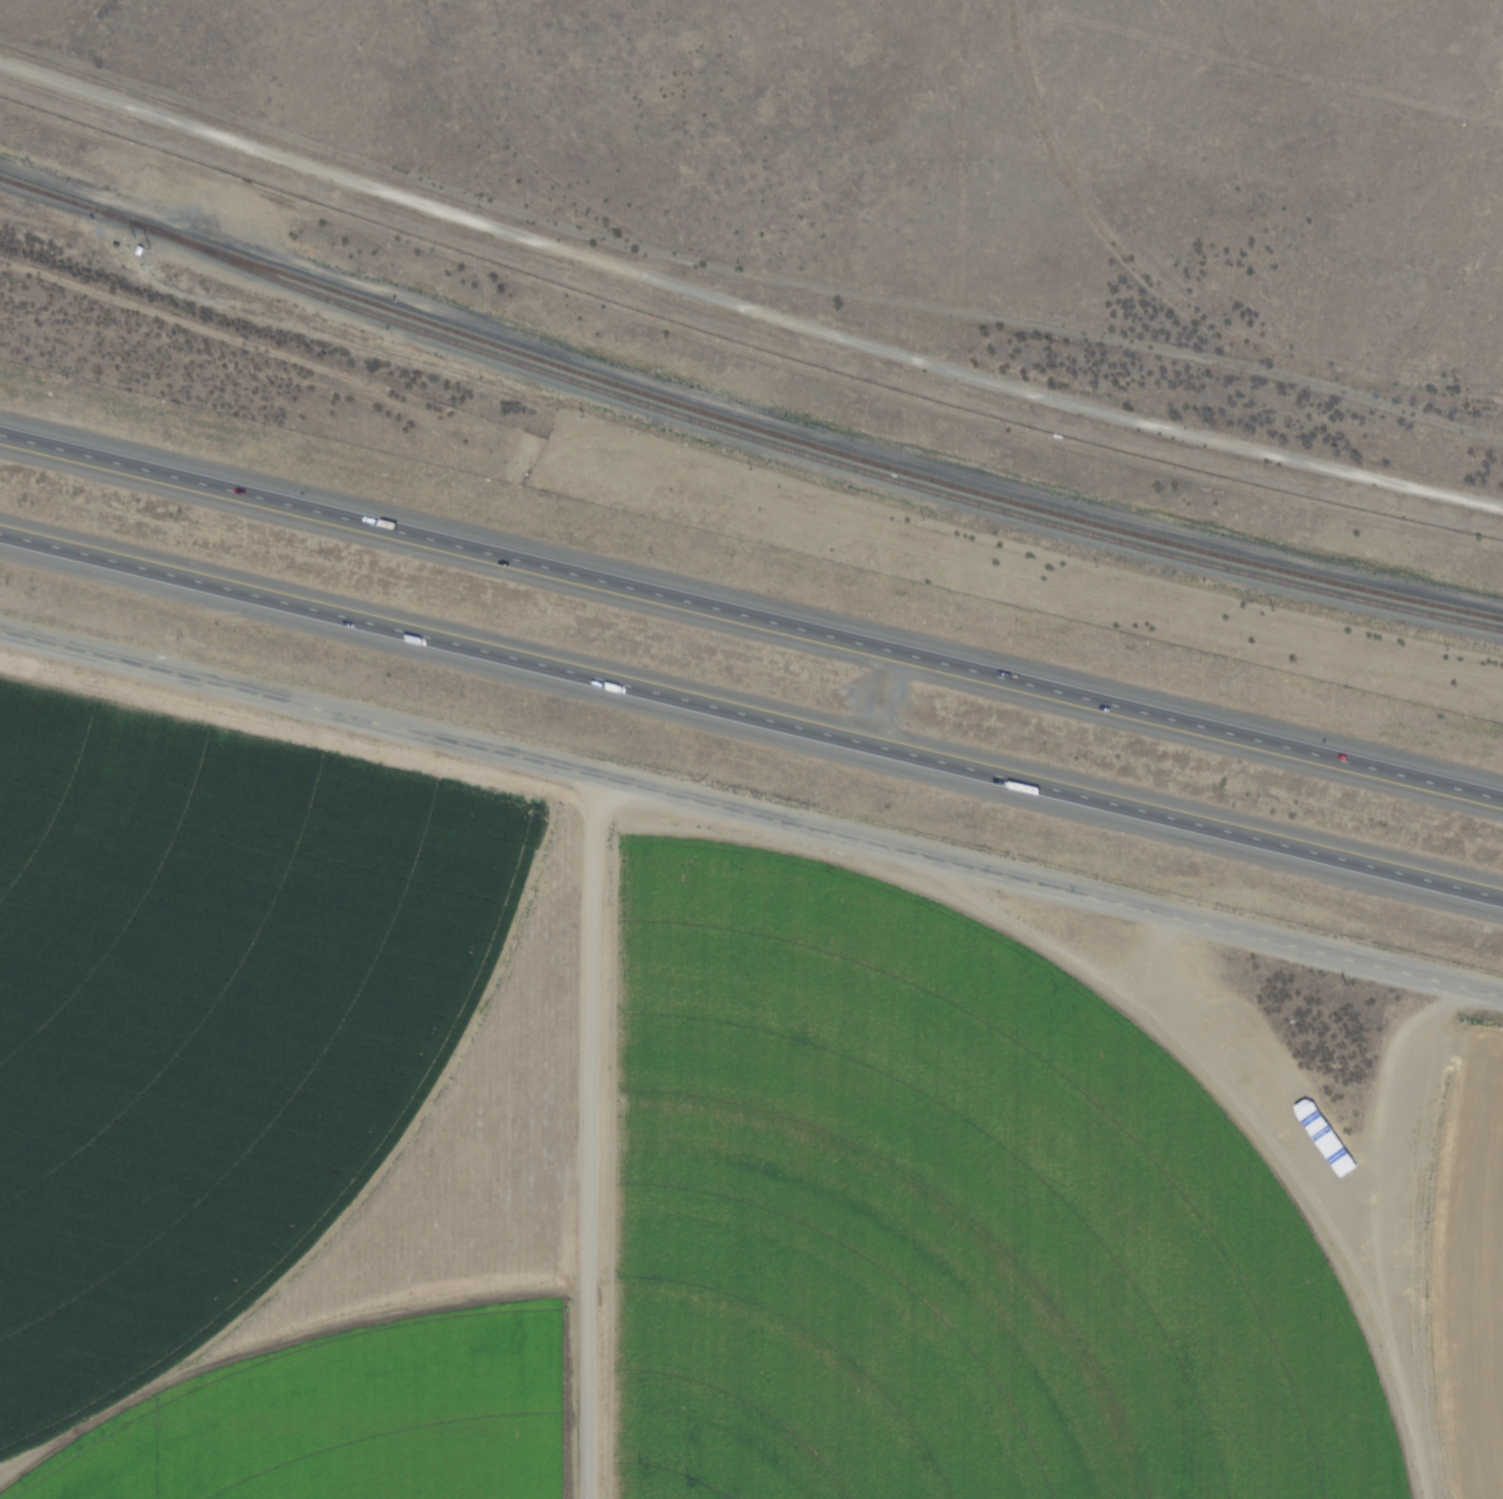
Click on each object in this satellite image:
road: (747, 285)
railway: (1172, 300)
railway: (744, 420)
railway: (807, 453)
road: (751, 605)
road: (751, 702)
road: (751, 813)

